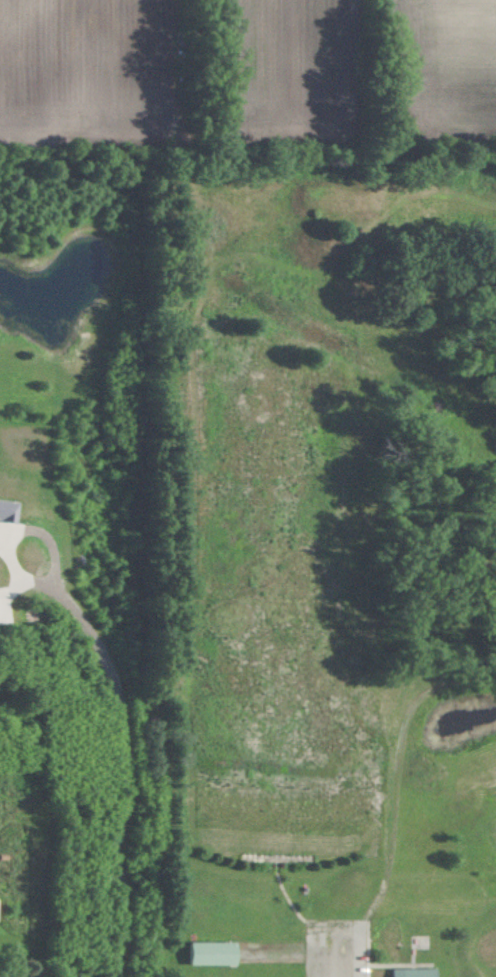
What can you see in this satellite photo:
park: (327, 563)
road: (122, 736)
parking lot: (333, 947)
building: (211, 952)
building: (412, 972)

